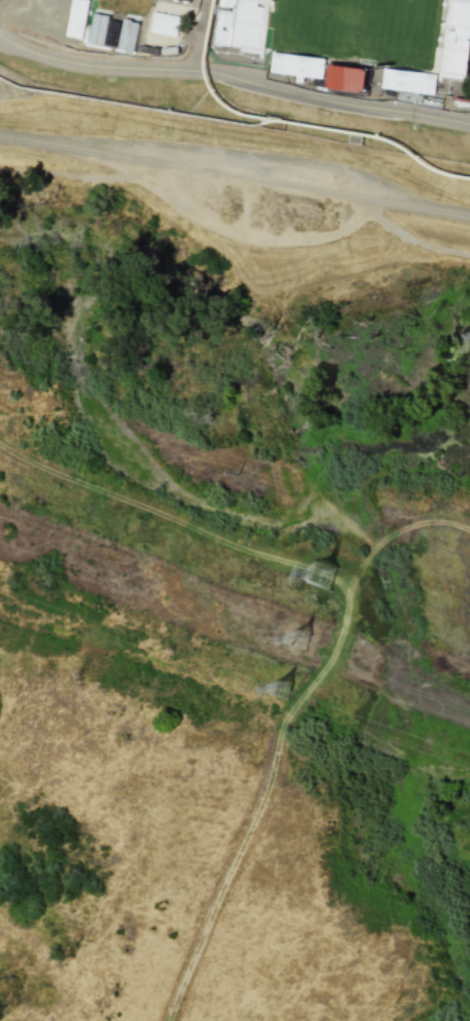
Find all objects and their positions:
building: (78, 18)
building: (251, 28)
building: (98, 30)
park: (360, 31)
road: (196, 35)
building: (128, 36)
building: (458, 40)
building: (297, 65)
theme park: (255, 69)
road: (235, 77)
building: (352, 80)
building: (402, 82)
railway: (296, 122)
road: (234, 178)
road: (410, 239)
power tower: (316, 575)
power tower: (296, 637)
power tower: (286, 692)
road: (282, 725)

